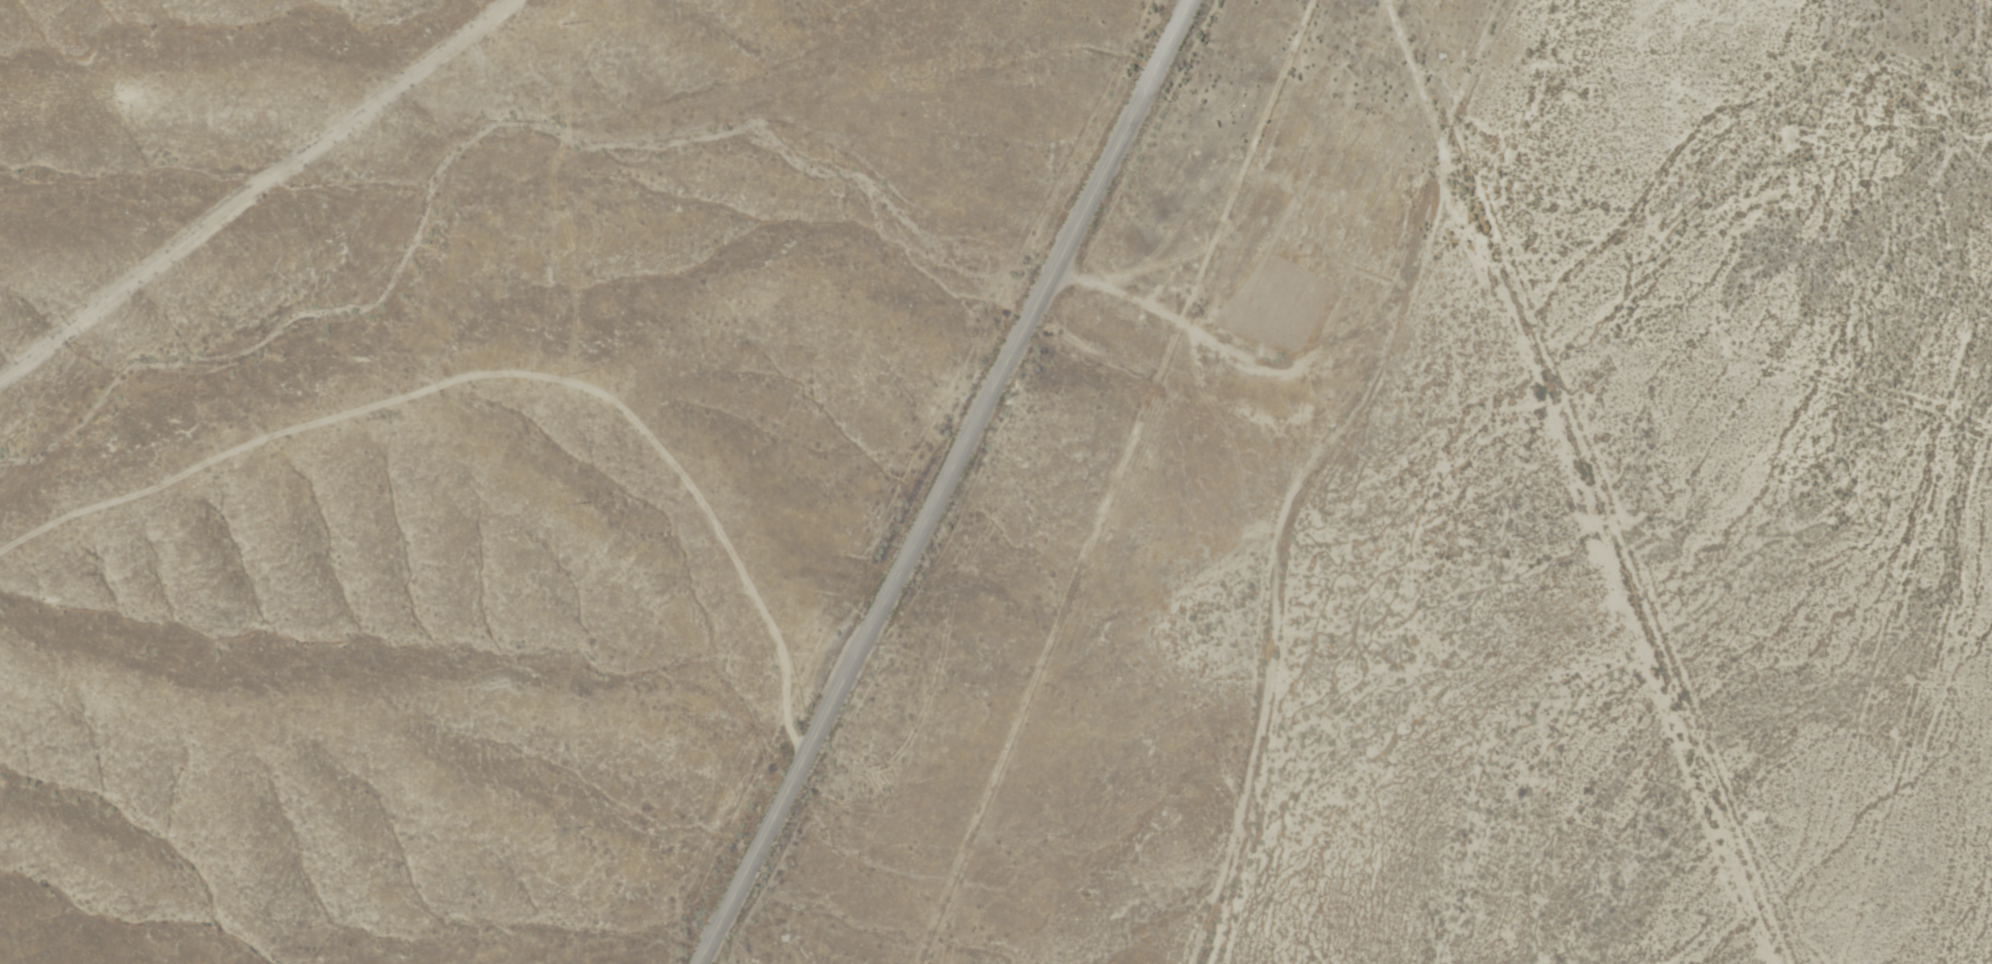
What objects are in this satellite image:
road: (1345, 471)
road: (945, 482)

